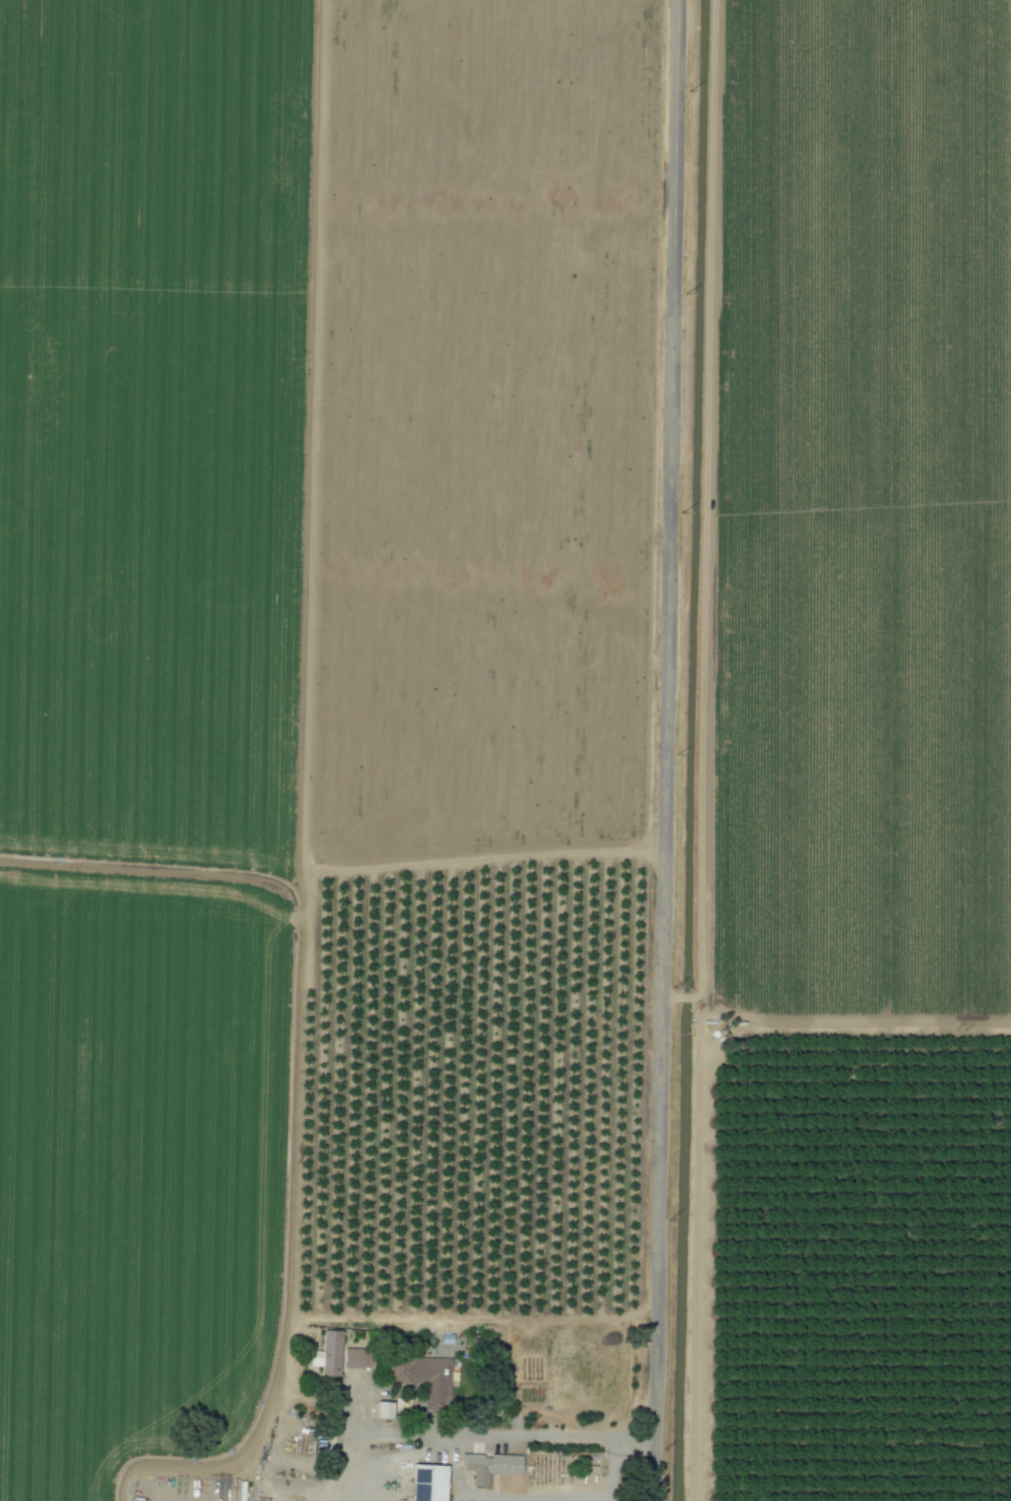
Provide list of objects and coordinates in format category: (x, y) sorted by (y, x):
road: (666, 750)
building: (327, 1354)
building: (351, 1359)
building: (423, 1377)
building: (383, 1410)
road: (464, 1435)
building: (489, 1466)
road: (607, 1470)
building: (427, 1483)

